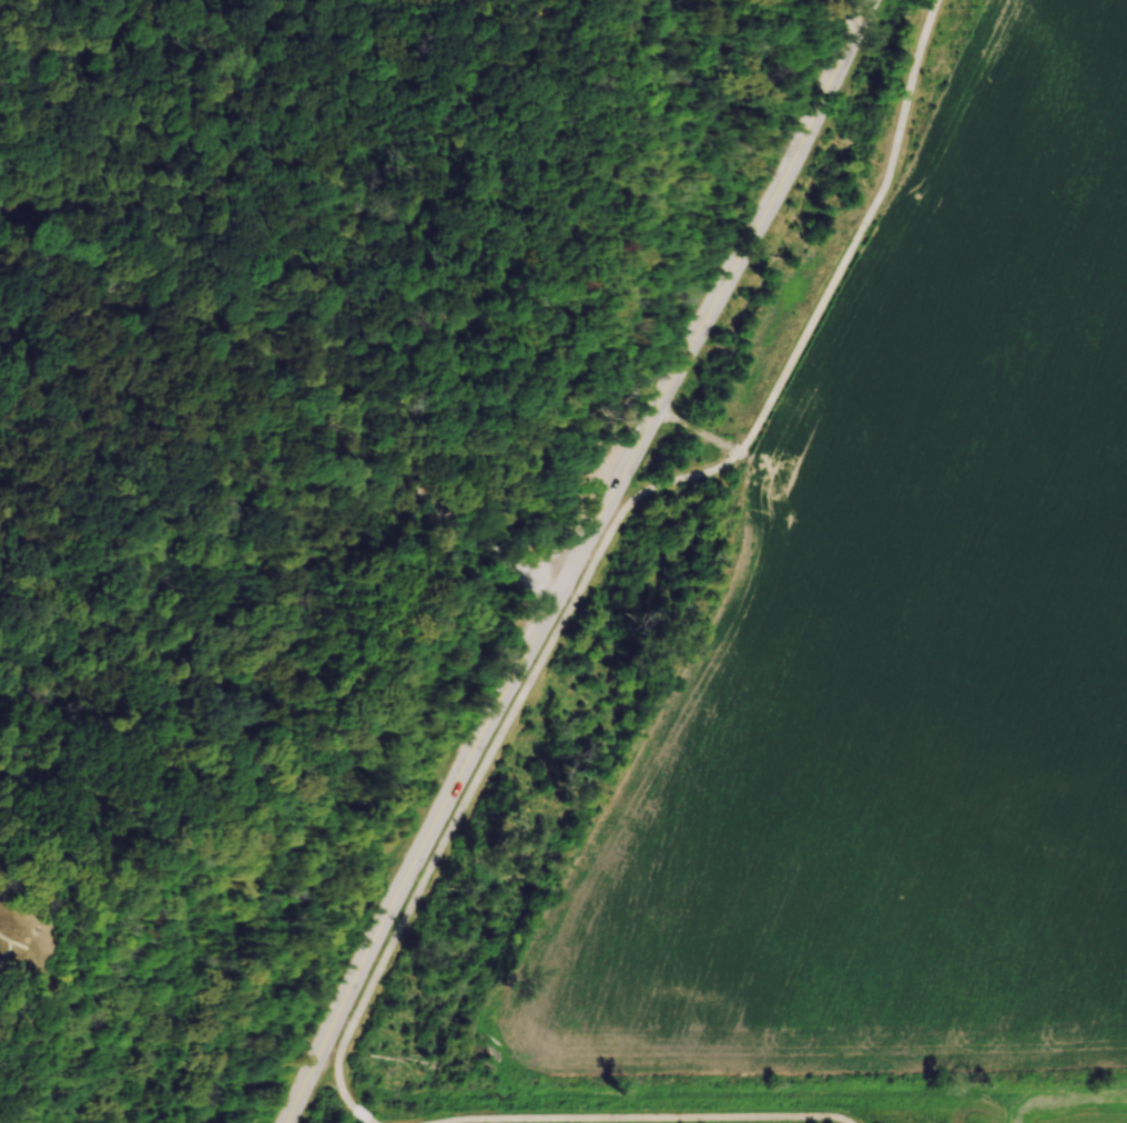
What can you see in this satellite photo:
road: (579, 262)
road: (298, 386)
road: (710, 437)
park: (306, 462)
road: (612, 527)
road: (578, 559)
road: (23, 942)
park: (724, 1099)
road: (358, 1115)
road: (649, 1117)

